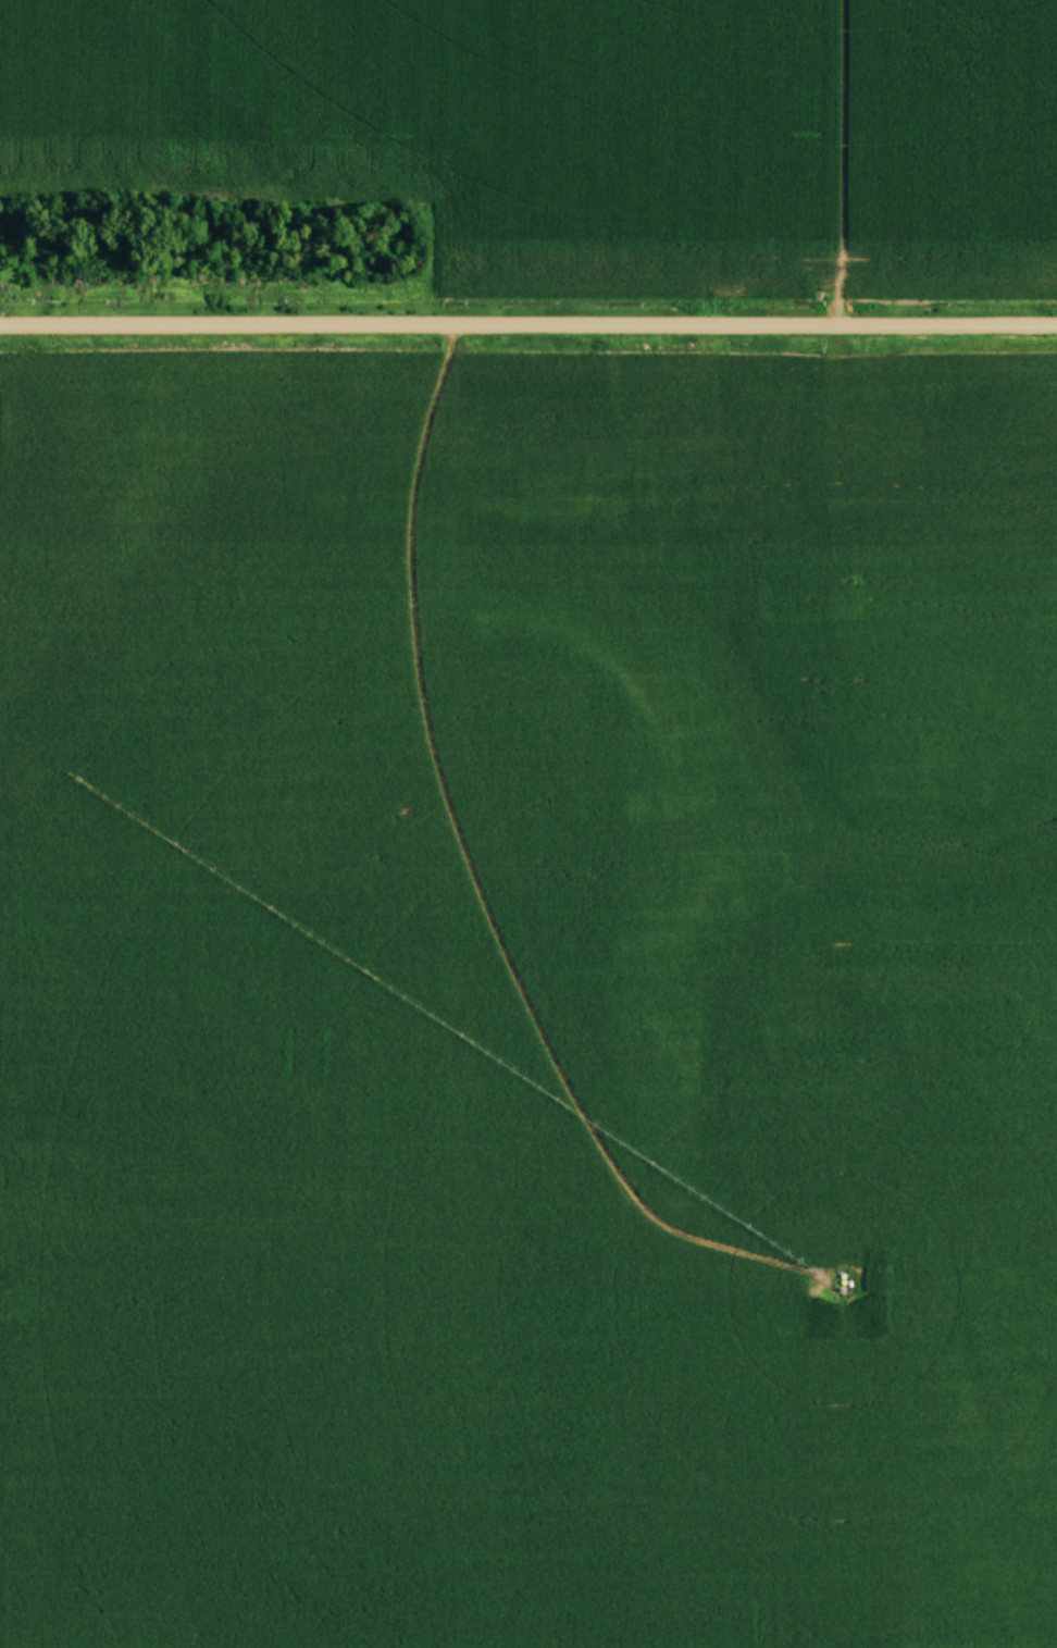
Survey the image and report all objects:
crop: (577, 129)
road: (845, 162)
road: (527, 324)

